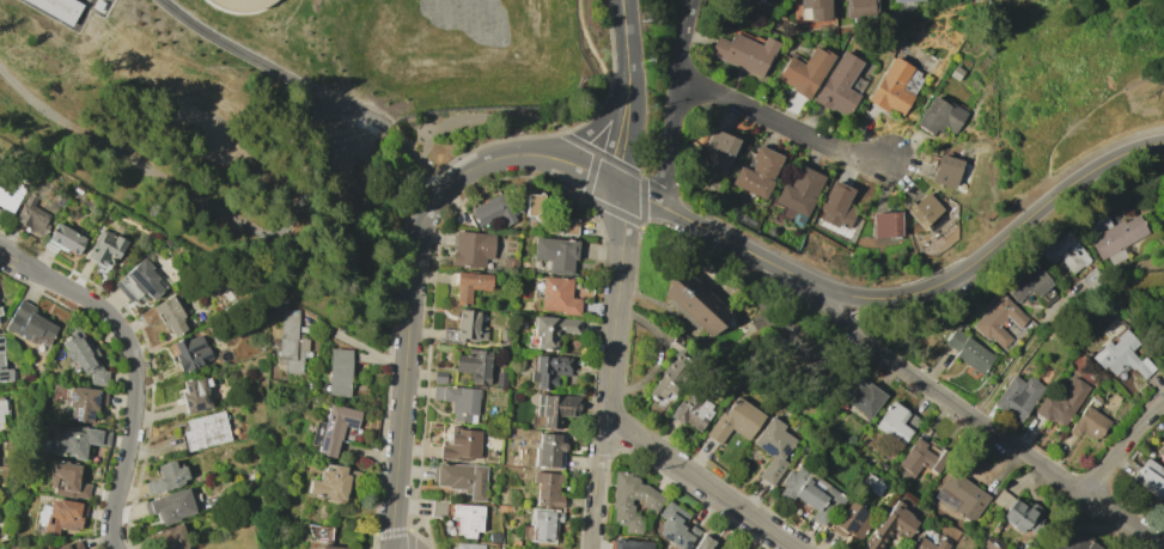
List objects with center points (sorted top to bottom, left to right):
building: (741, 0)
building: (909, 1)
building: (242, 4)
storage tank: (242, 4)
building: (860, 7)
building: (61, 8)
building: (817, 10)
road: (623, 17)
building: (130, 50)
storage tank: (130, 50)
building: (744, 51)
road: (621, 67)
building: (804, 72)
building: (839, 86)
building: (895, 86)
building: (190, 94)
road: (676, 100)
road: (634, 111)
building: (938, 116)
road: (474, 117)
road: (1084, 118)
road: (785, 127)
road: (587, 133)
road: (610, 146)
building: (715, 153)
road: (568, 161)
building: (945, 171)
building: (757, 172)
road: (604, 178)
parking lot: (1025, 183)
building: (799, 193)
road: (640, 195)
building: (10, 196)
building: (834, 201)
building: (492, 209)
building: (922, 209)
building: (31, 215)
building: (548, 216)
building: (885, 224)
building: (1114, 236)
building: (65, 238)
road: (727, 239)
building: (104, 248)
building: (471, 248)
building: (1065, 251)
road: (992, 252)
building: (555, 254)
road: (19, 255)
building: (508, 264)
building: (138, 281)
building: (1030, 282)
building: (469, 285)
building: (557, 295)
building: (694, 301)
road: (616, 304)
road: (410, 306)
building: (164, 315)
building: (997, 318)
building: (1163, 319)
building: (29, 324)
building: (469, 325)
building: (551, 330)
building: (504, 334)
building: (291, 342)
road: (1020, 348)
building: (0, 352)
building: (968, 352)
building: (190, 353)
building: (84, 356)
building: (1121, 356)
building: (474, 365)
road: (136, 367)
building: (548, 370)
building: (339, 372)
building: (672, 374)
building: (439, 376)
building: (194, 394)
building: (863, 397)
building: (1016, 397)
building: (458, 401)
building: (84, 402)
building: (1061, 402)
building: (555, 408)
building: (1, 409)
building: (691, 411)
road: (975, 417)
building: (735, 420)
building: (894, 423)
building: (1089, 423)
building: (335, 427)
building: (206, 432)
building: (77, 440)
building: (459, 444)
road: (1122, 445)
building: (773, 449)
building: (548, 450)
building: (1160, 452)
building: (920, 459)
building: (165, 477)
building: (1150, 477)
building: (461, 478)
building: (66, 480)
building: (333, 482)
road: (598, 482)
road: (705, 484)
building: (871, 484)
building: (548, 488)
building: (811, 494)
building: (963, 495)
building: (211, 500)
building: (651, 501)
building: (170, 506)
building: (439, 508)
building: (1016, 512)
building: (59, 516)
building: (468, 519)
building: (852, 521)
building: (543, 524)
building: (676, 526)
building: (889, 526)
building: (494, 537)
building: (166, 538)
building: (1072, 542)
building: (702, 543)
building: (629, 544)
building: (927, 544)
building: (69, 545)
building: (327, 545)
building: (469, 545)
building: (315, 548)
building: (548, 548)

